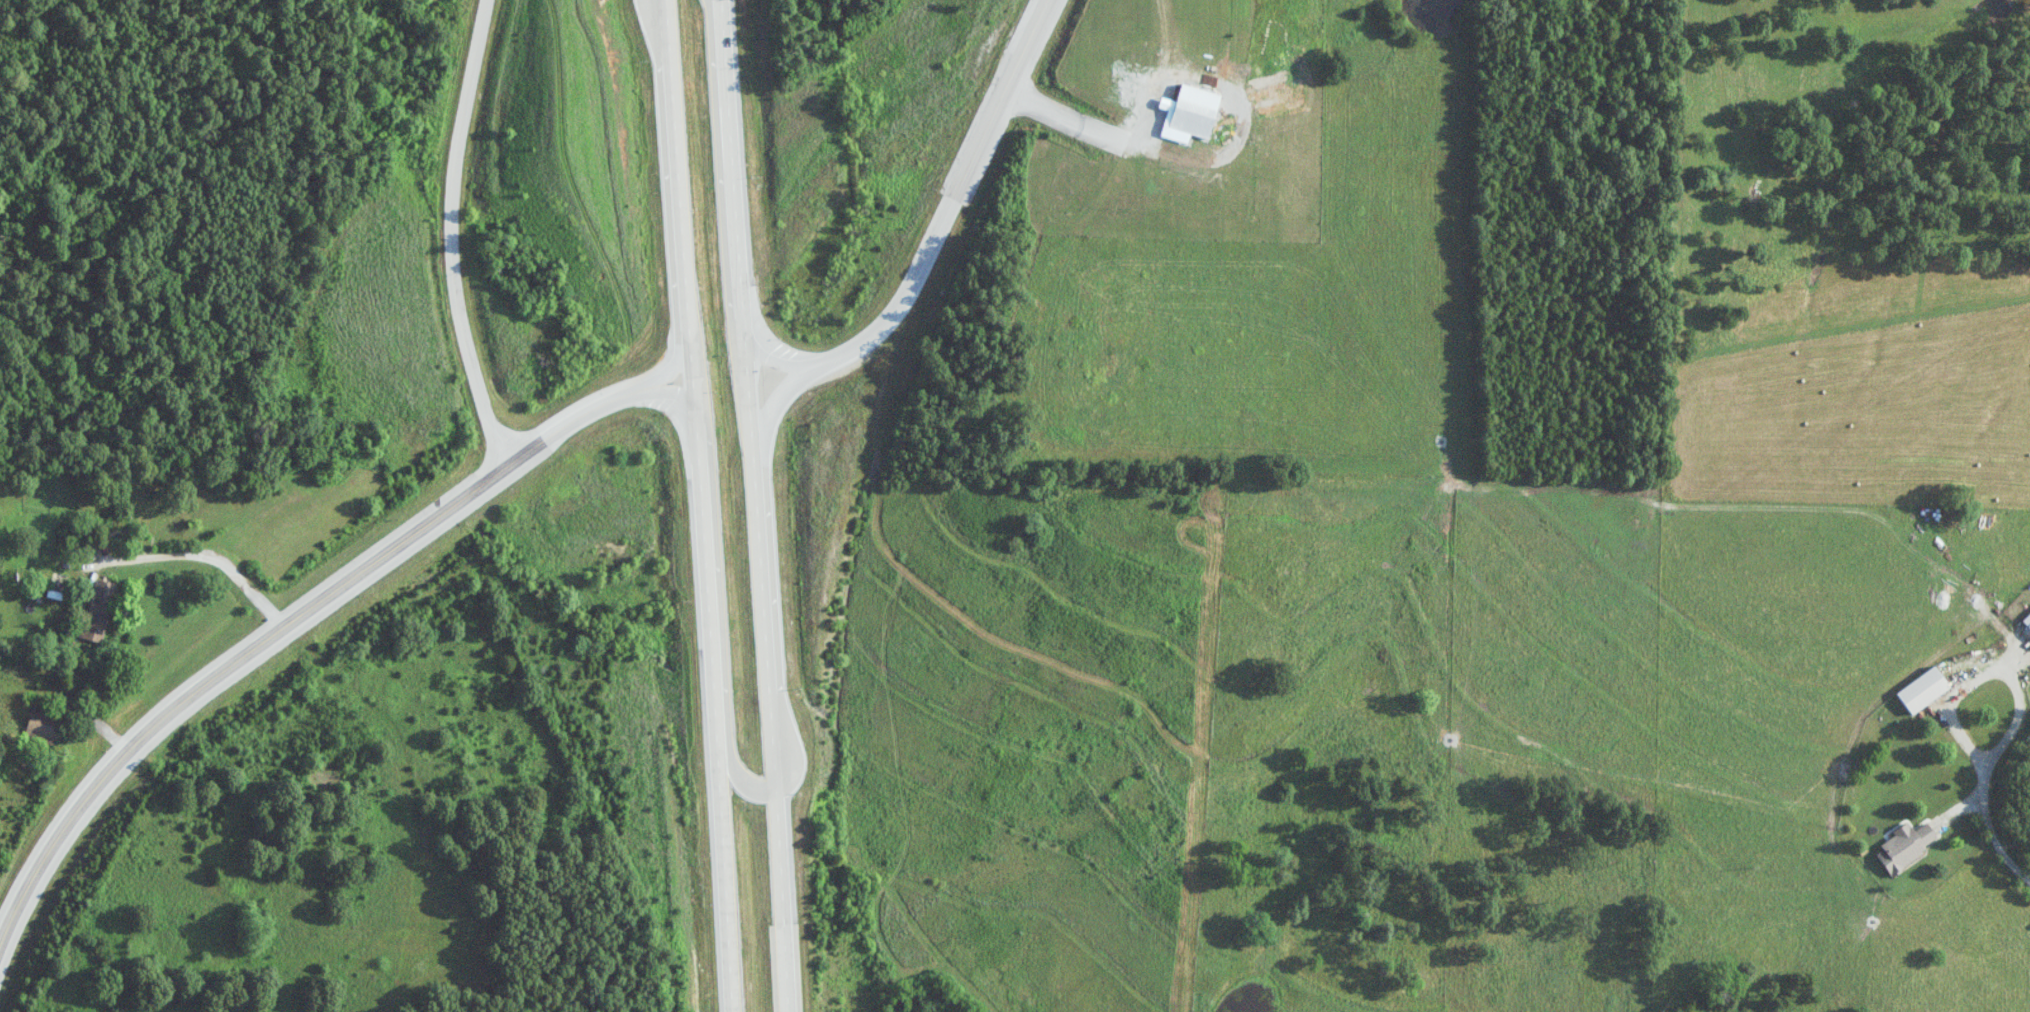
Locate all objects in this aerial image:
road: (654, 37)
road: (1169, 78)
building: (1195, 118)
road: (1179, 168)
road: (954, 196)
road: (725, 221)
road: (456, 243)
road: (773, 355)
road: (774, 407)
road: (756, 479)
road: (704, 505)
road: (208, 563)
building: (59, 583)
building: (100, 610)
building: (2028, 620)
road: (305, 623)
road: (724, 628)
road: (2017, 679)
building: (1926, 690)
road: (79, 711)
building: (45, 726)
road: (1963, 808)
road: (2000, 834)
building: (1908, 846)
road: (792, 985)

